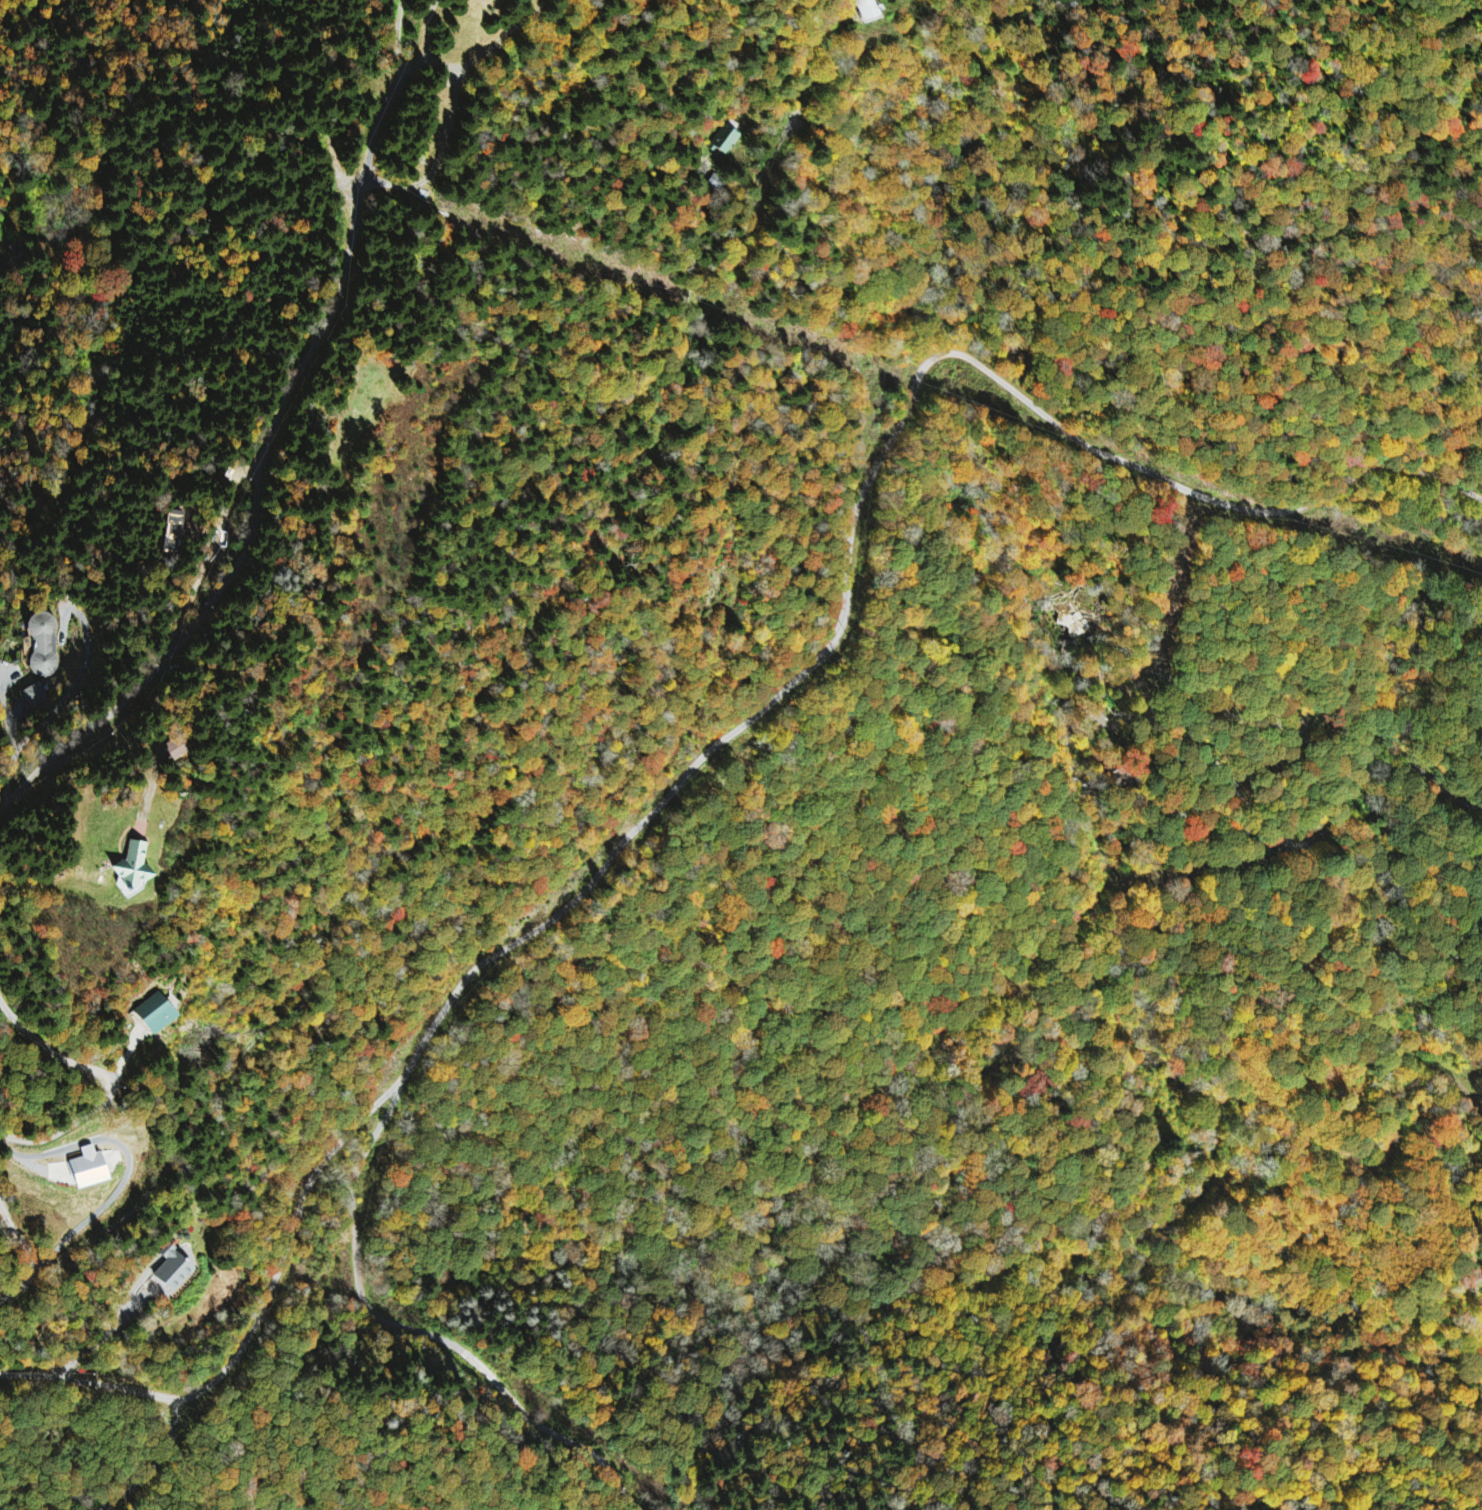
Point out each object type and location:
road: (400, 36)
road: (456, 72)
road: (249, 534)
building: (45, 646)
building: (36, 696)
road: (1184, 732)
road: (726, 735)
road: (1370, 751)
building: (142, 869)
building: (158, 1012)
road: (108, 1076)
building: (93, 1168)
road: (27, 1254)
building: (175, 1274)

